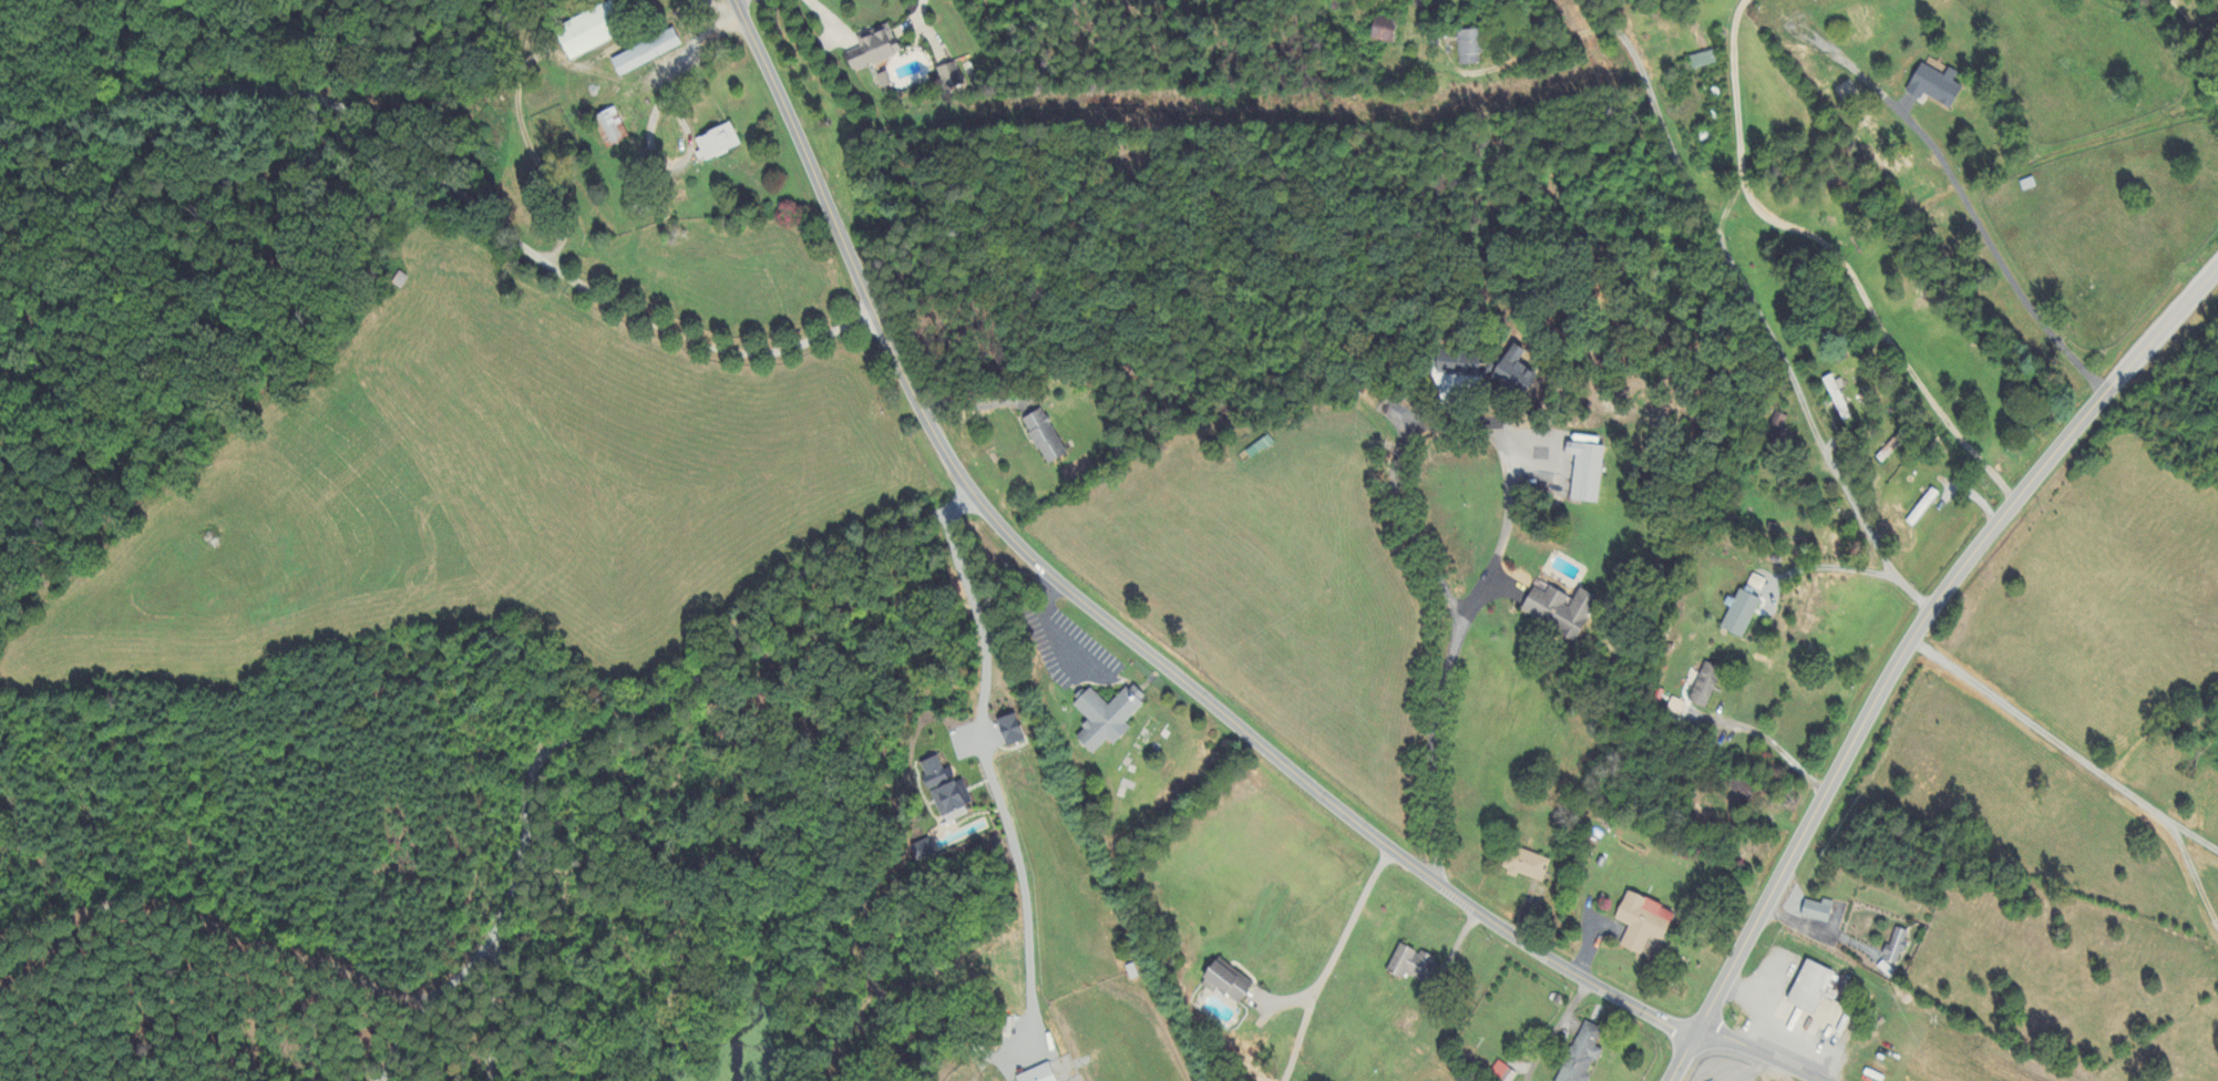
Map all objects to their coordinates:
road: (690, 55)
road: (449, 186)
road: (1729, 208)
road: (1988, 237)
road: (1836, 253)
road: (1757, 309)
road: (1399, 514)
road: (1829, 566)
road: (1102, 616)
road: (1921, 625)
road: (1460, 631)
road: (646, 700)
road: (1765, 740)
road: (2064, 751)
road: (988, 770)
park: (1150, 779)
building: (944, 789)
building: (922, 850)
building: (1526, 864)
road: (2186, 873)
building: (1817, 910)
road: (201, 917)
building: (1642, 922)
building: (1896, 946)
road: (1329, 964)
building: (1413, 966)
building: (1226, 981)
building: (1810, 987)
road: (494, 1003)
road: (1554, 1030)
road: (402, 1032)
building: (1582, 1054)
road: (1758, 1054)
road: (1683, 1057)
building: (1501, 1073)
building: (1038, 1074)

